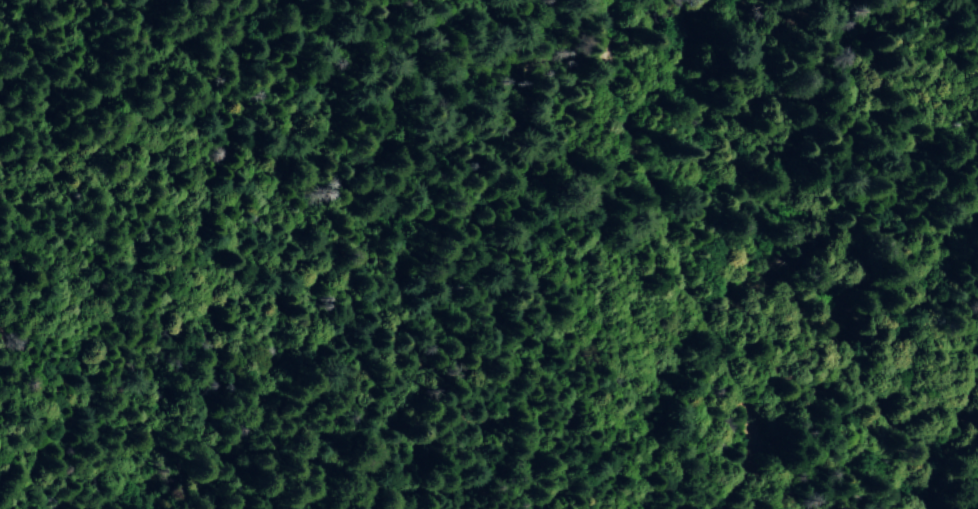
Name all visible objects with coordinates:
road: (673, 253)

